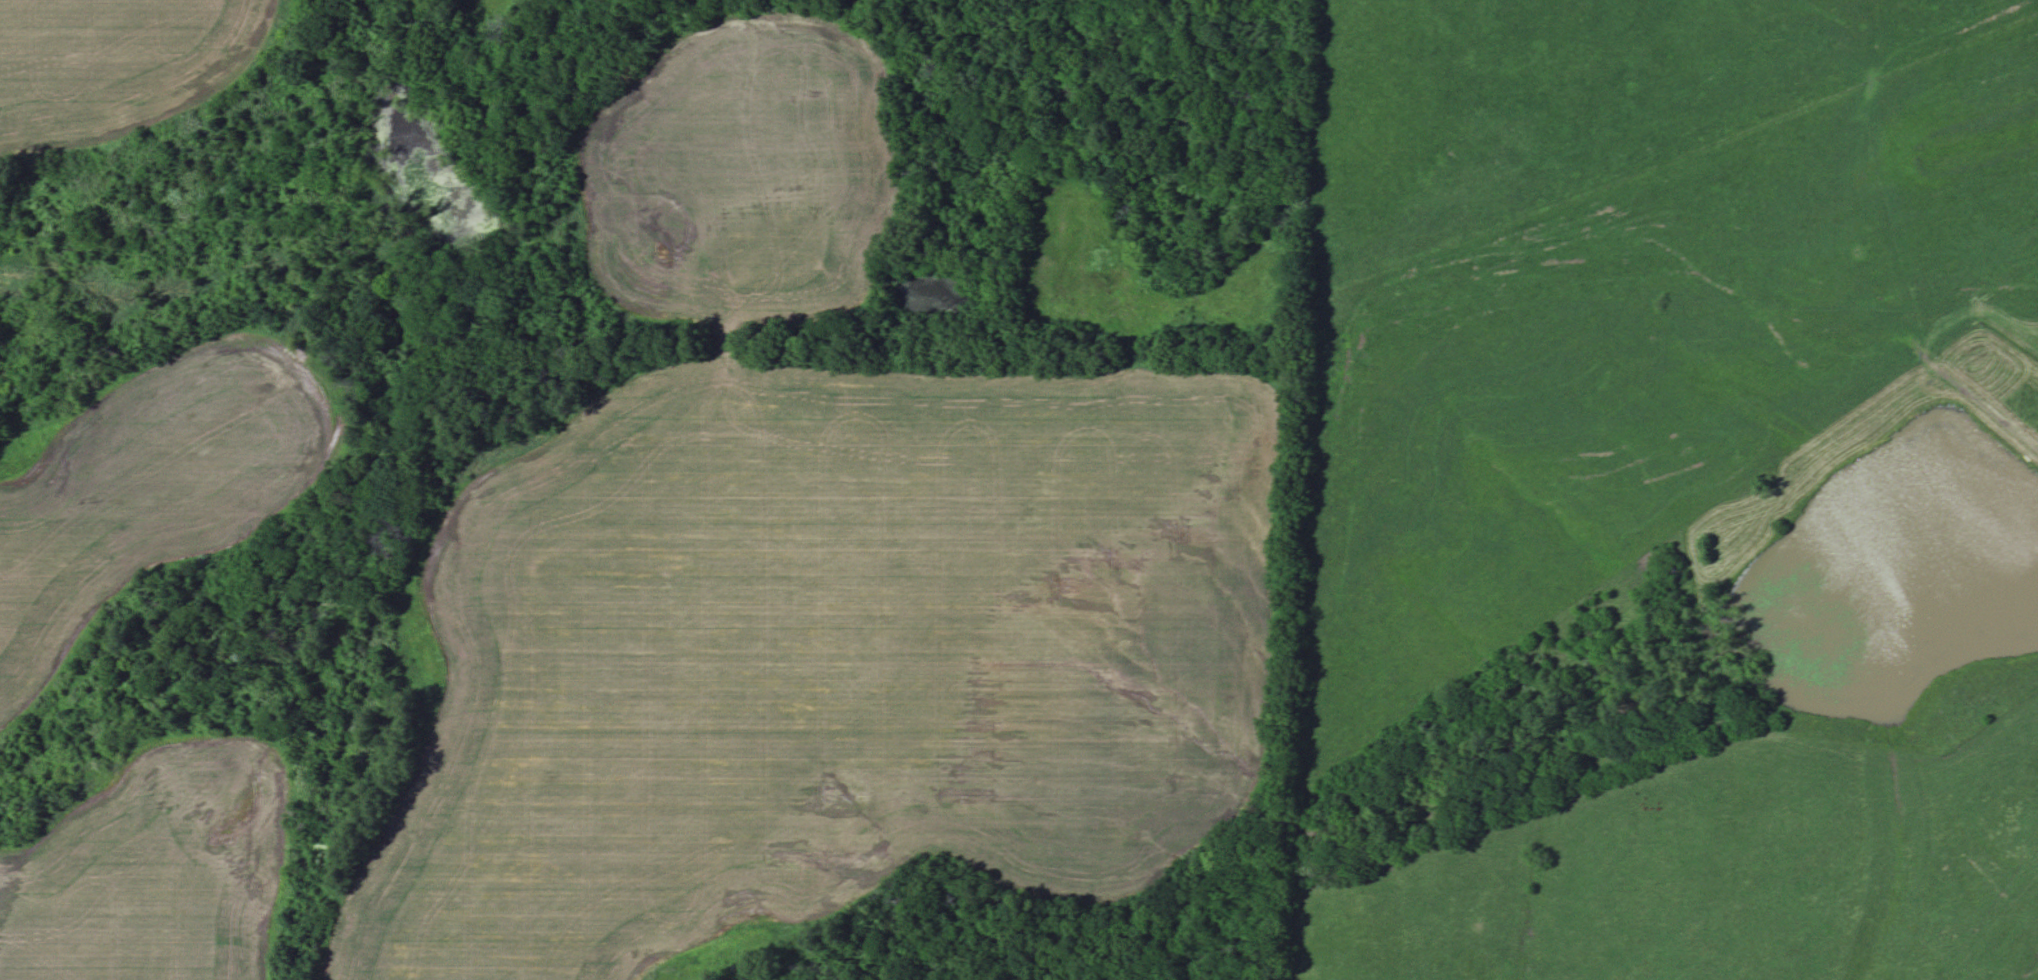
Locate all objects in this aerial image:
crop: (115, 65)
crop: (152, 490)
crop: (804, 579)
crop: (152, 867)
crop: (898, 979)

